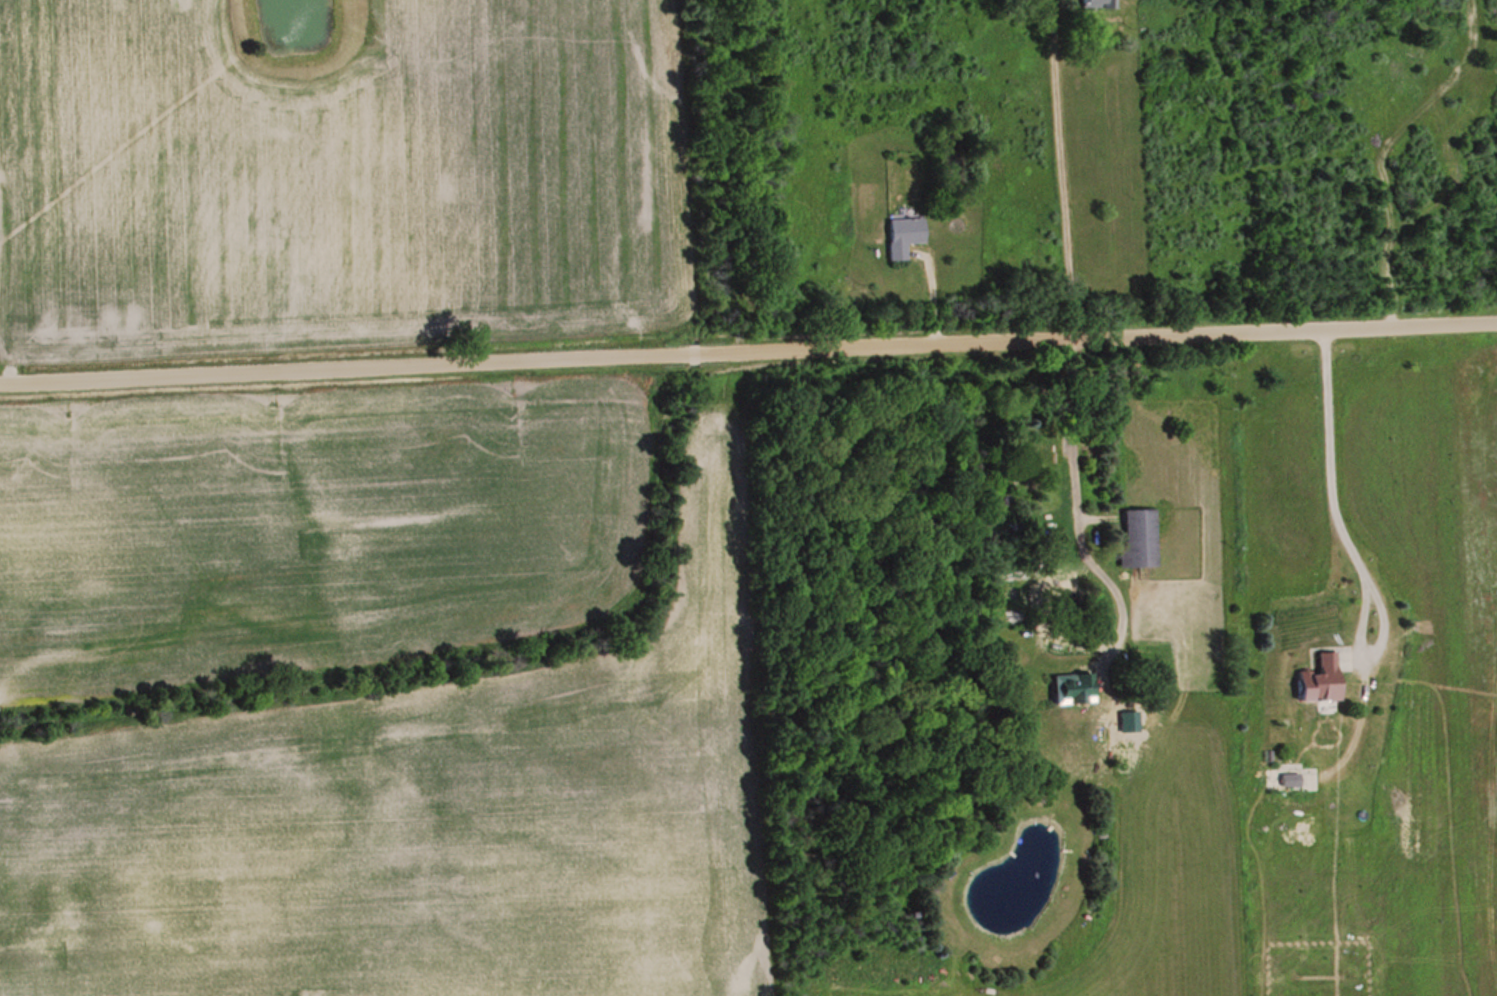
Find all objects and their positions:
building: (1100, 3)
building: (904, 236)
road: (748, 350)
building: (1047, 449)
building: (1003, 514)
building: (1141, 539)
building: (1069, 602)
building: (1322, 679)

